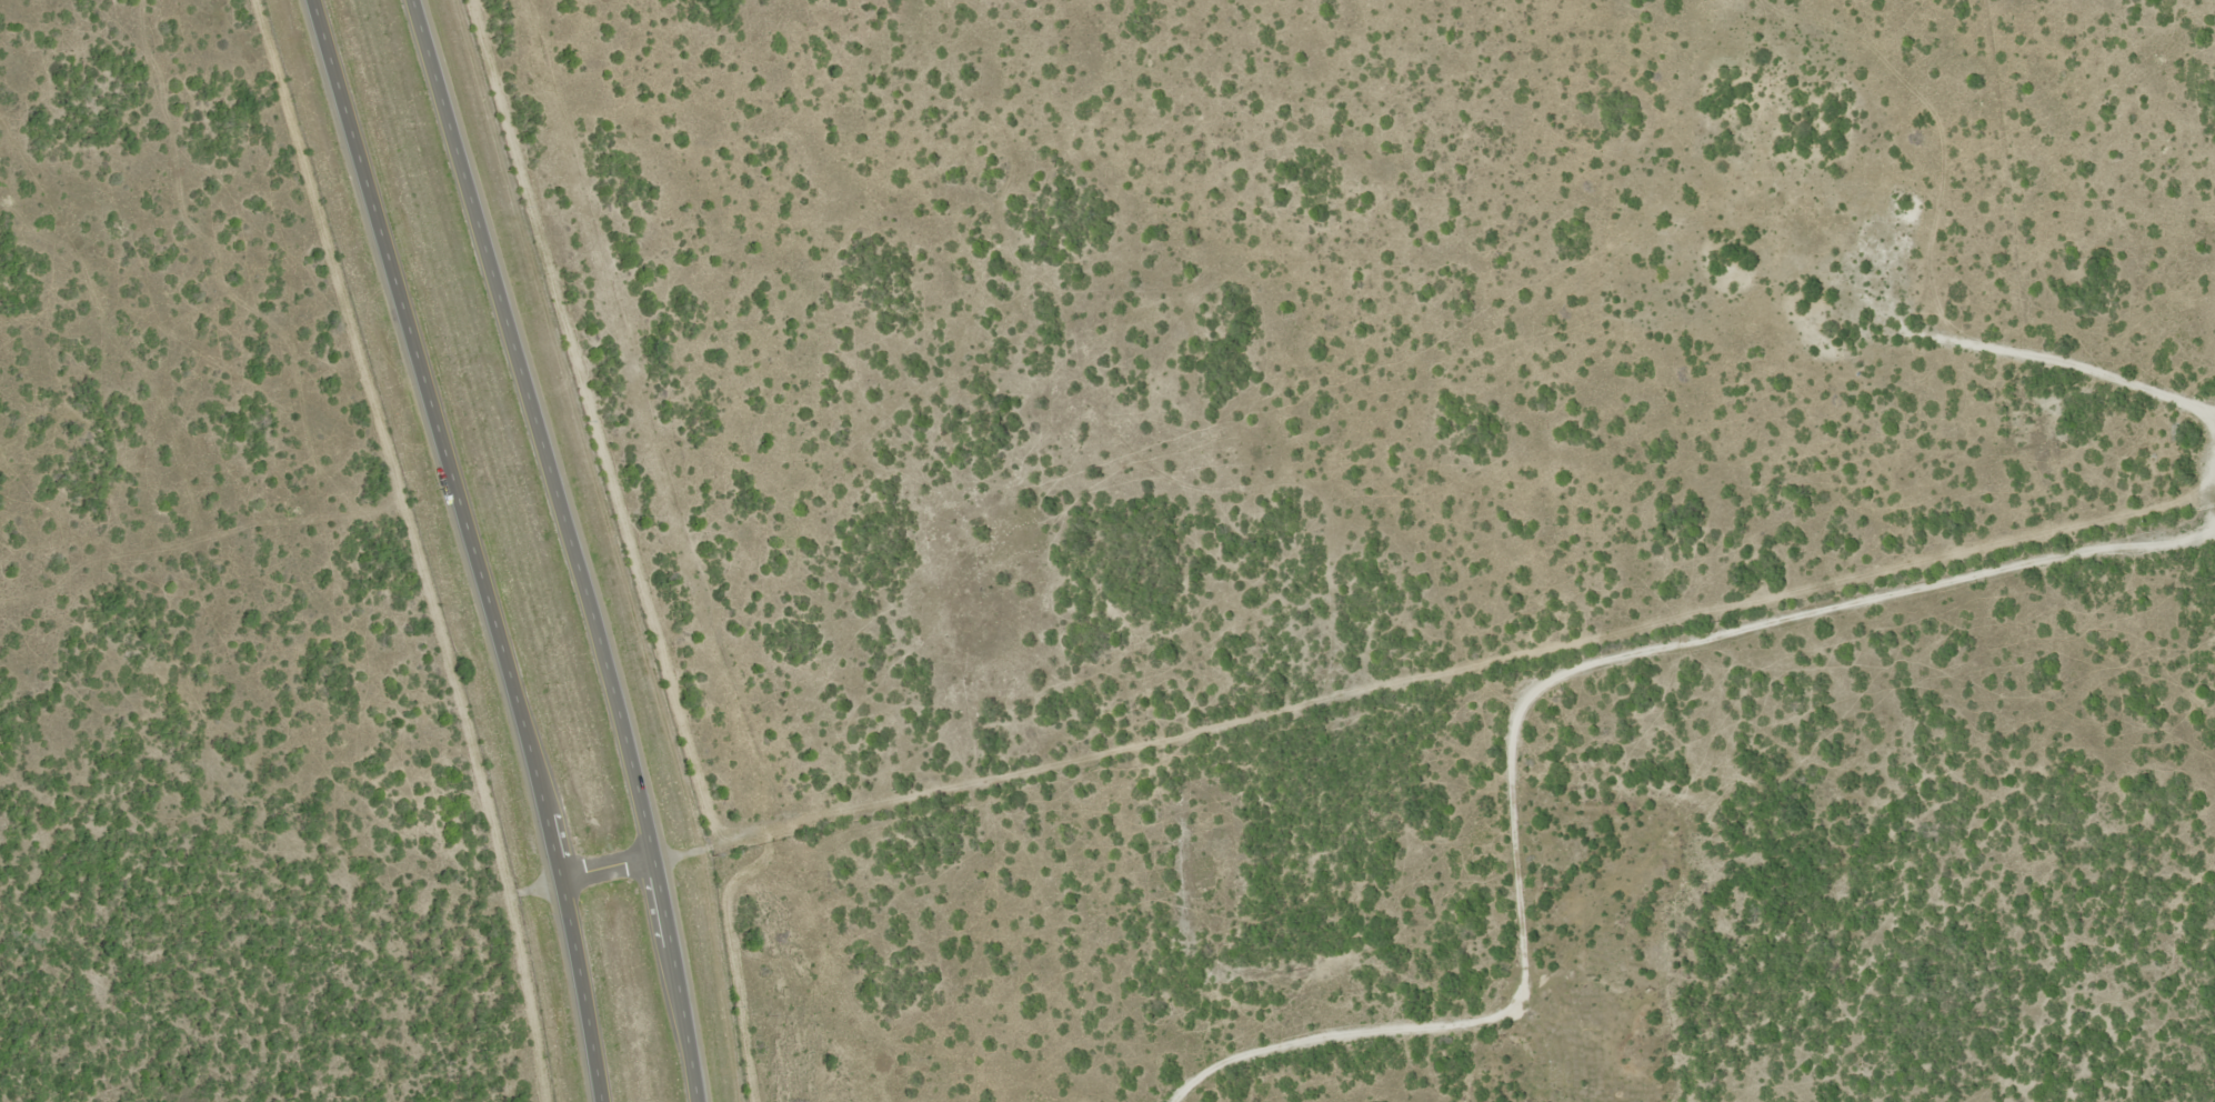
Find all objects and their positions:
road: (475, 547)
road: (579, 547)
road: (1691, 688)
road: (615, 871)
road: (1320, 991)

